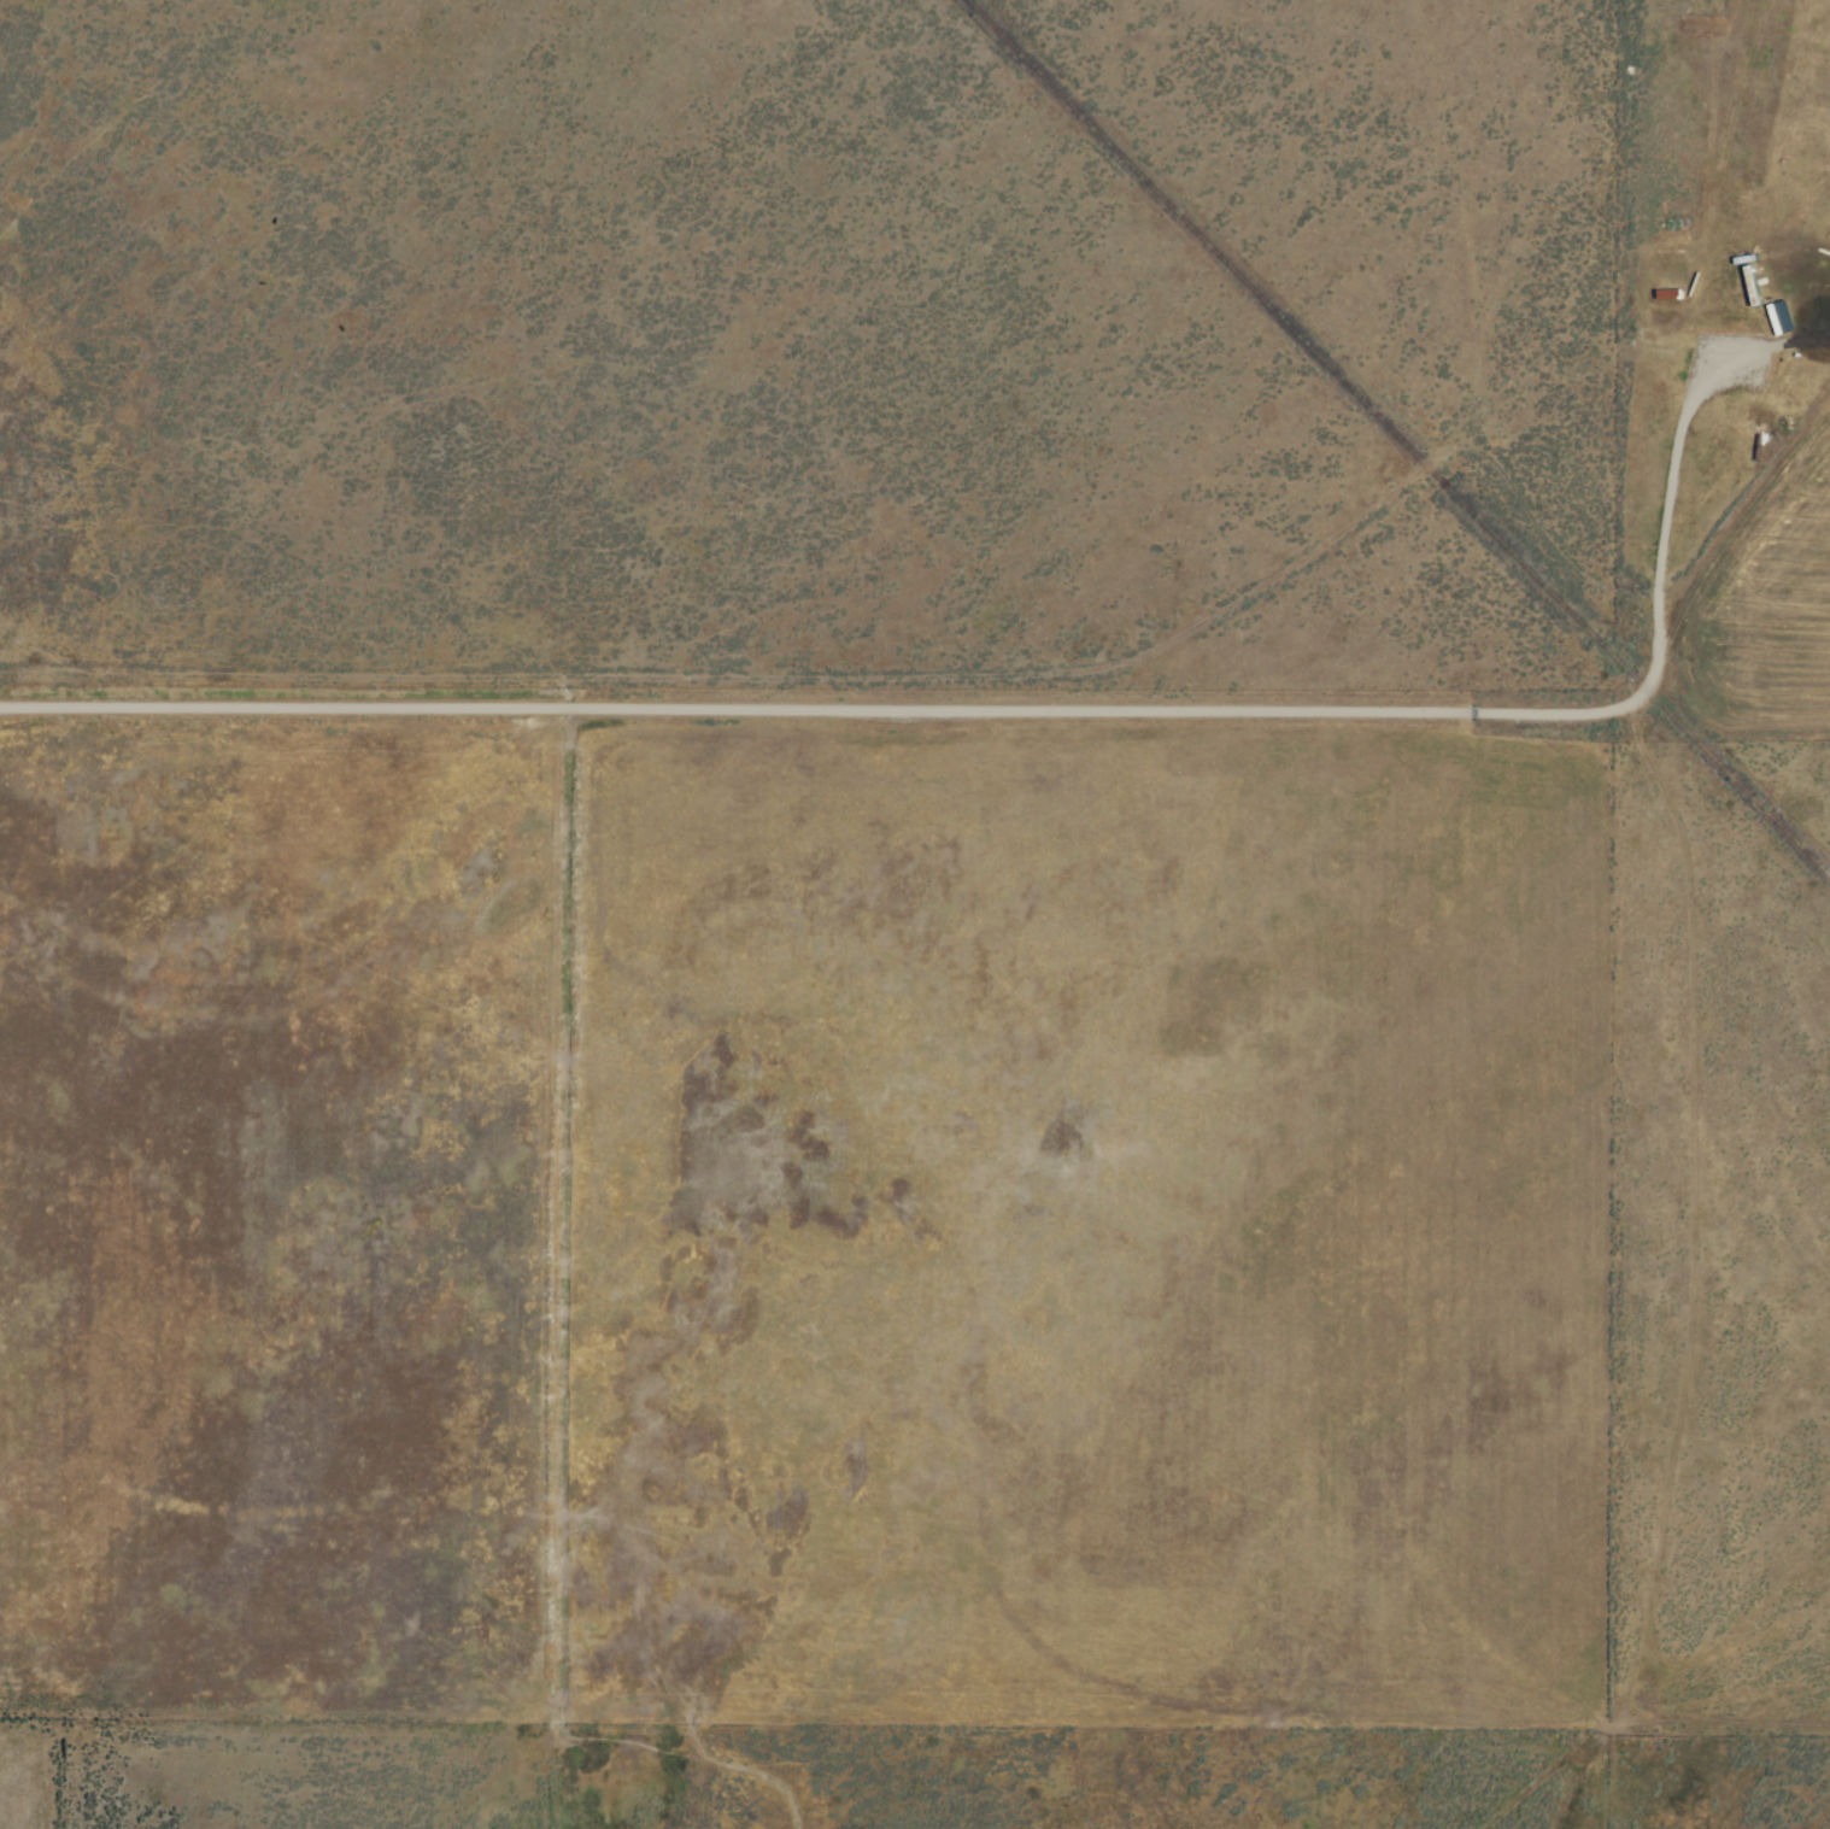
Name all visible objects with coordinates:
road: (1532, 350)
railway: (1397, 439)
road: (820, 641)
road: (1010, 713)
crop: (915, 914)
road: (1705, 1272)

